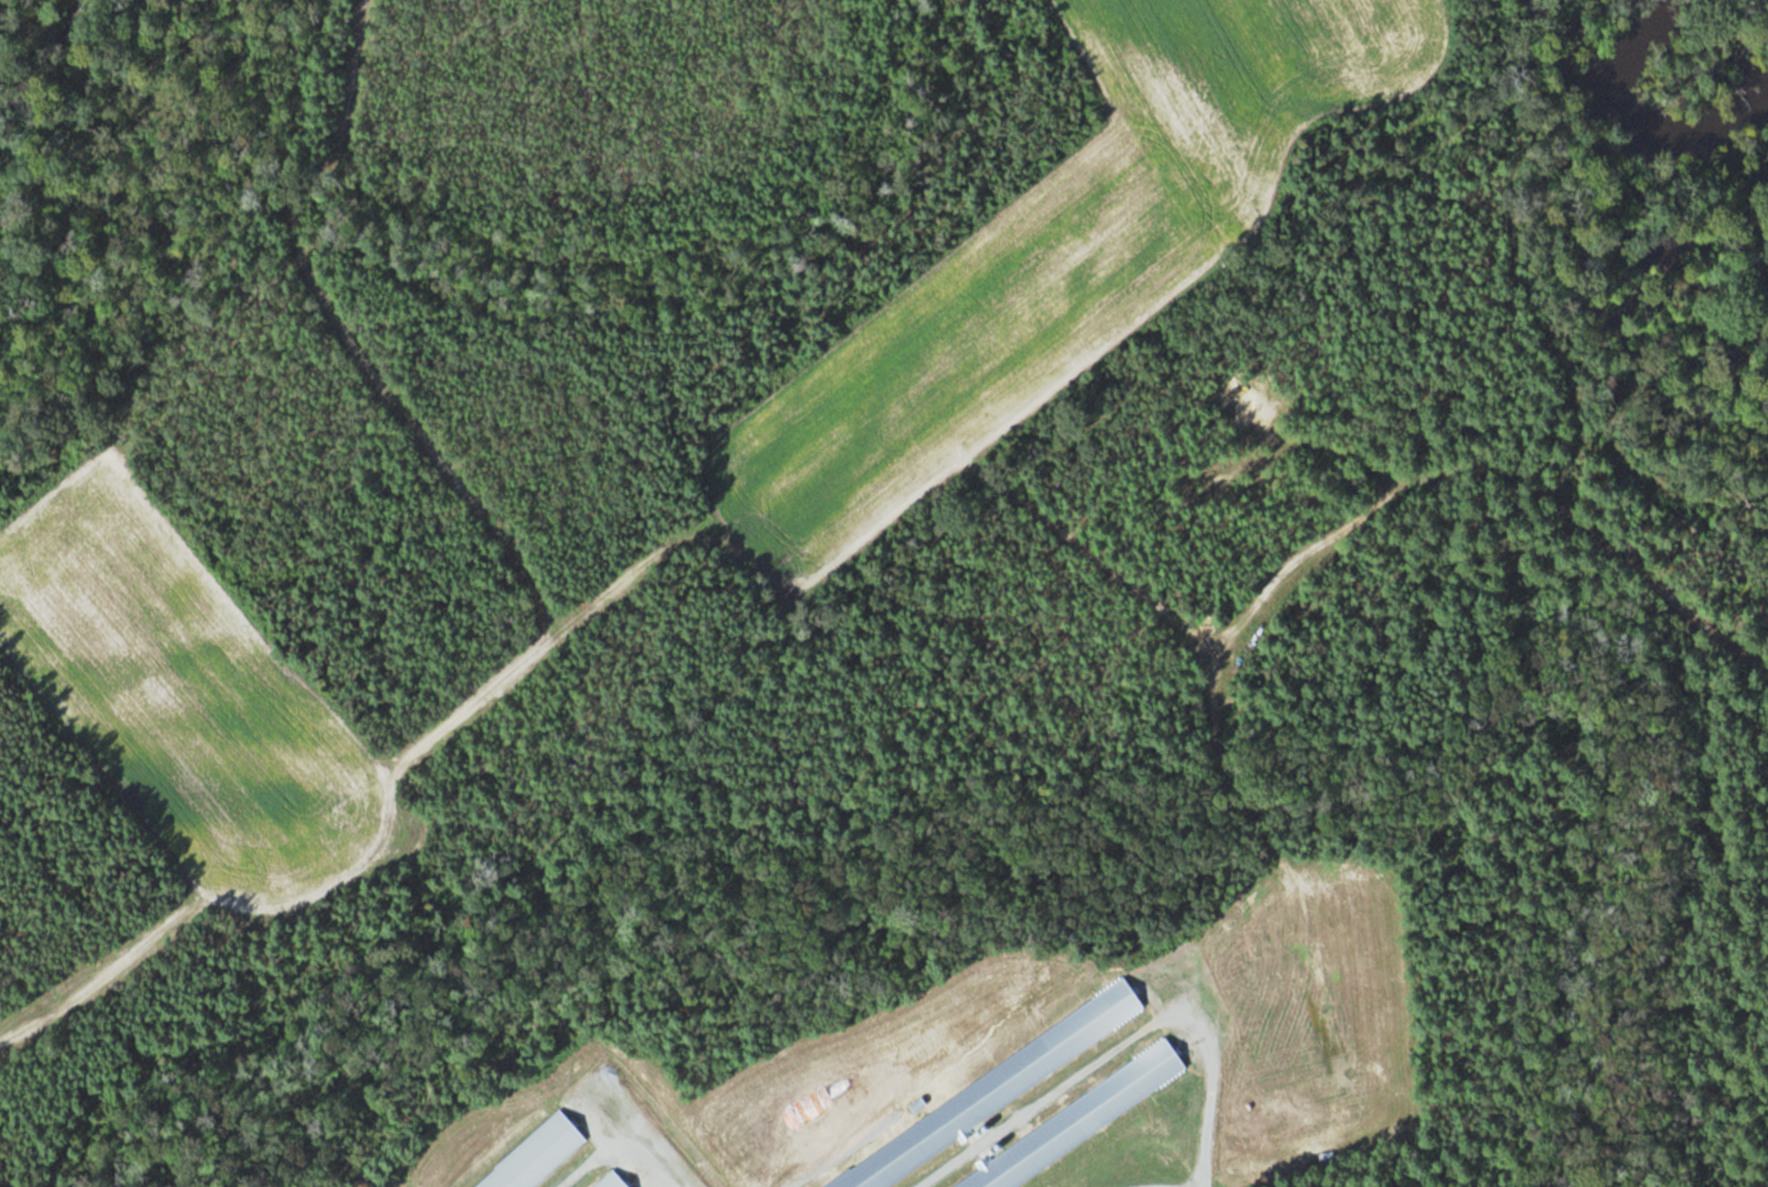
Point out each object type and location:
river: (1625, 136)

